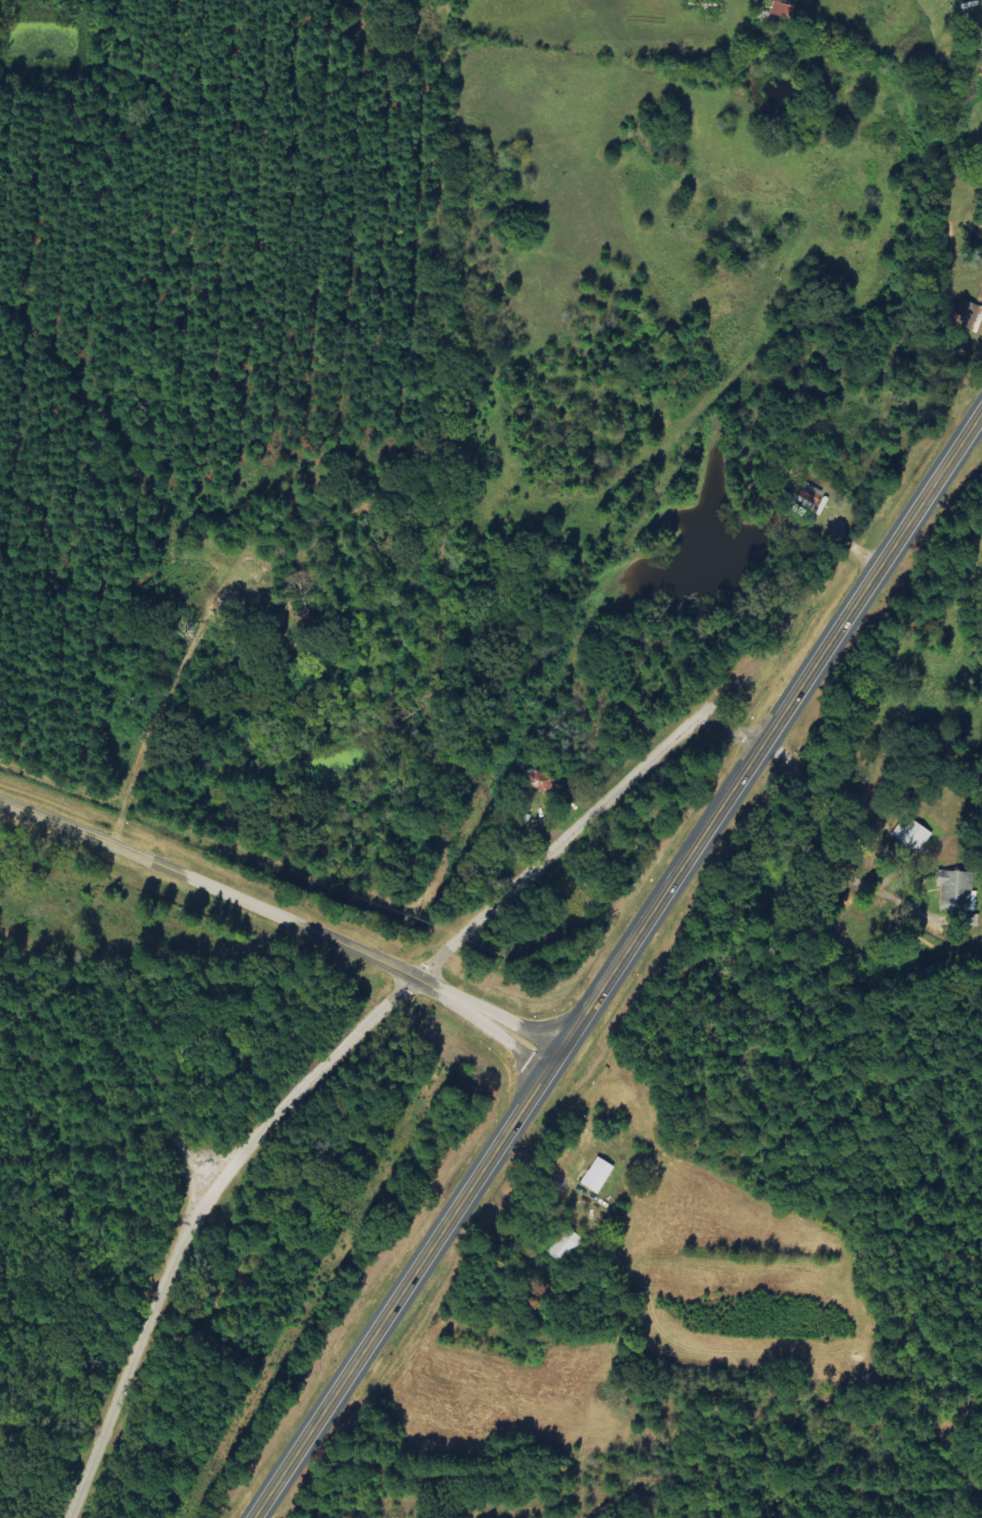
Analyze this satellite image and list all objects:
building: (966, 310)
road: (730, 374)
building: (808, 493)
road: (770, 734)
building: (912, 834)
road: (854, 864)
building: (958, 890)
road: (284, 916)
road: (343, 1045)
building: (596, 1175)
road: (407, 1288)

